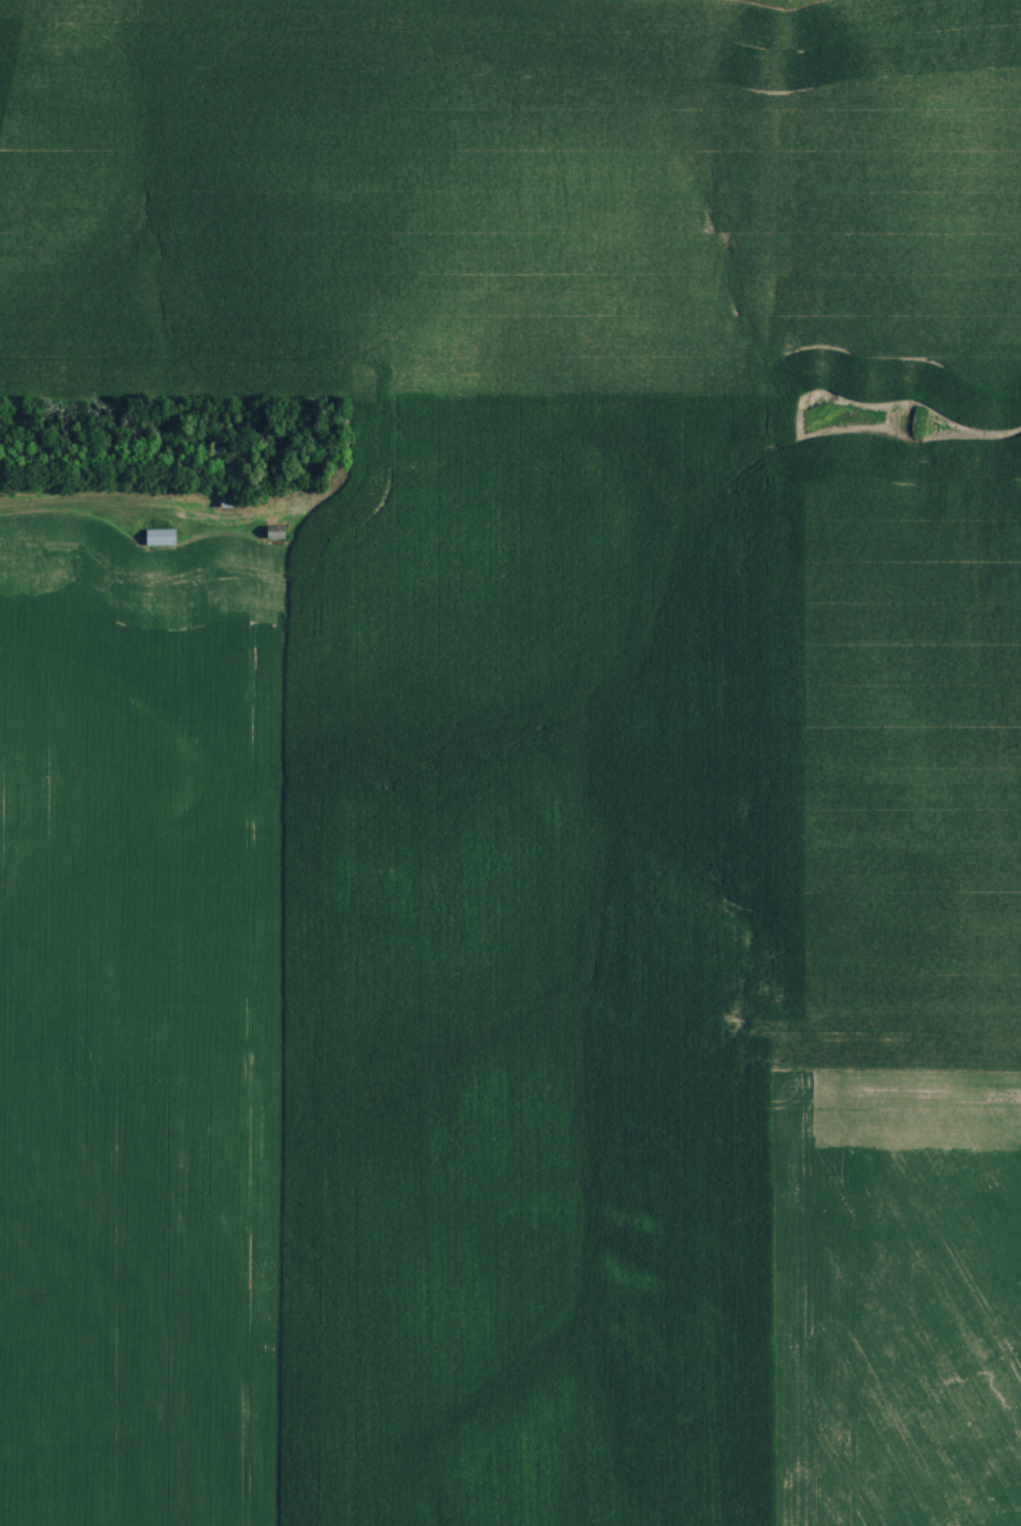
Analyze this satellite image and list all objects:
building: (278, 534)
building: (161, 538)

